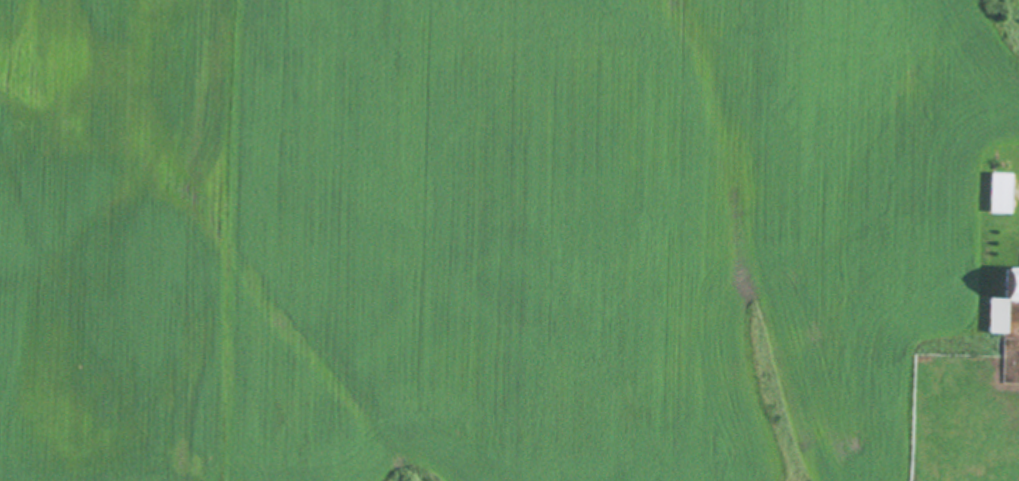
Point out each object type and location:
building: (995, 195)
building: (1000, 304)

